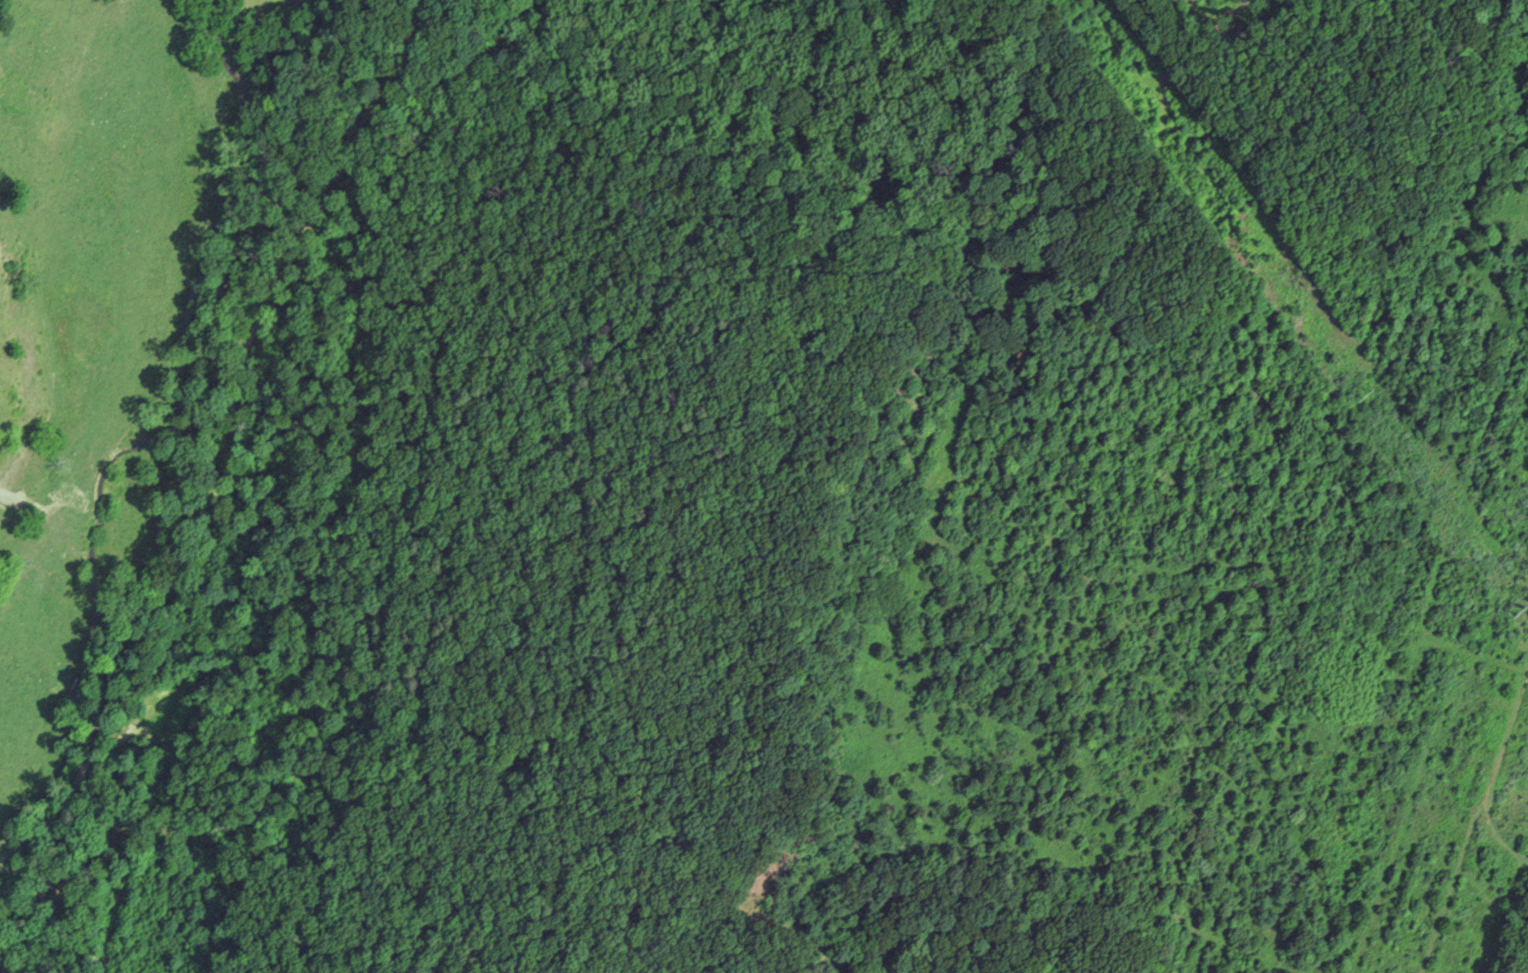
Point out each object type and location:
road: (248, 219)
road: (255, 333)
road: (287, 595)
road: (104, 710)

